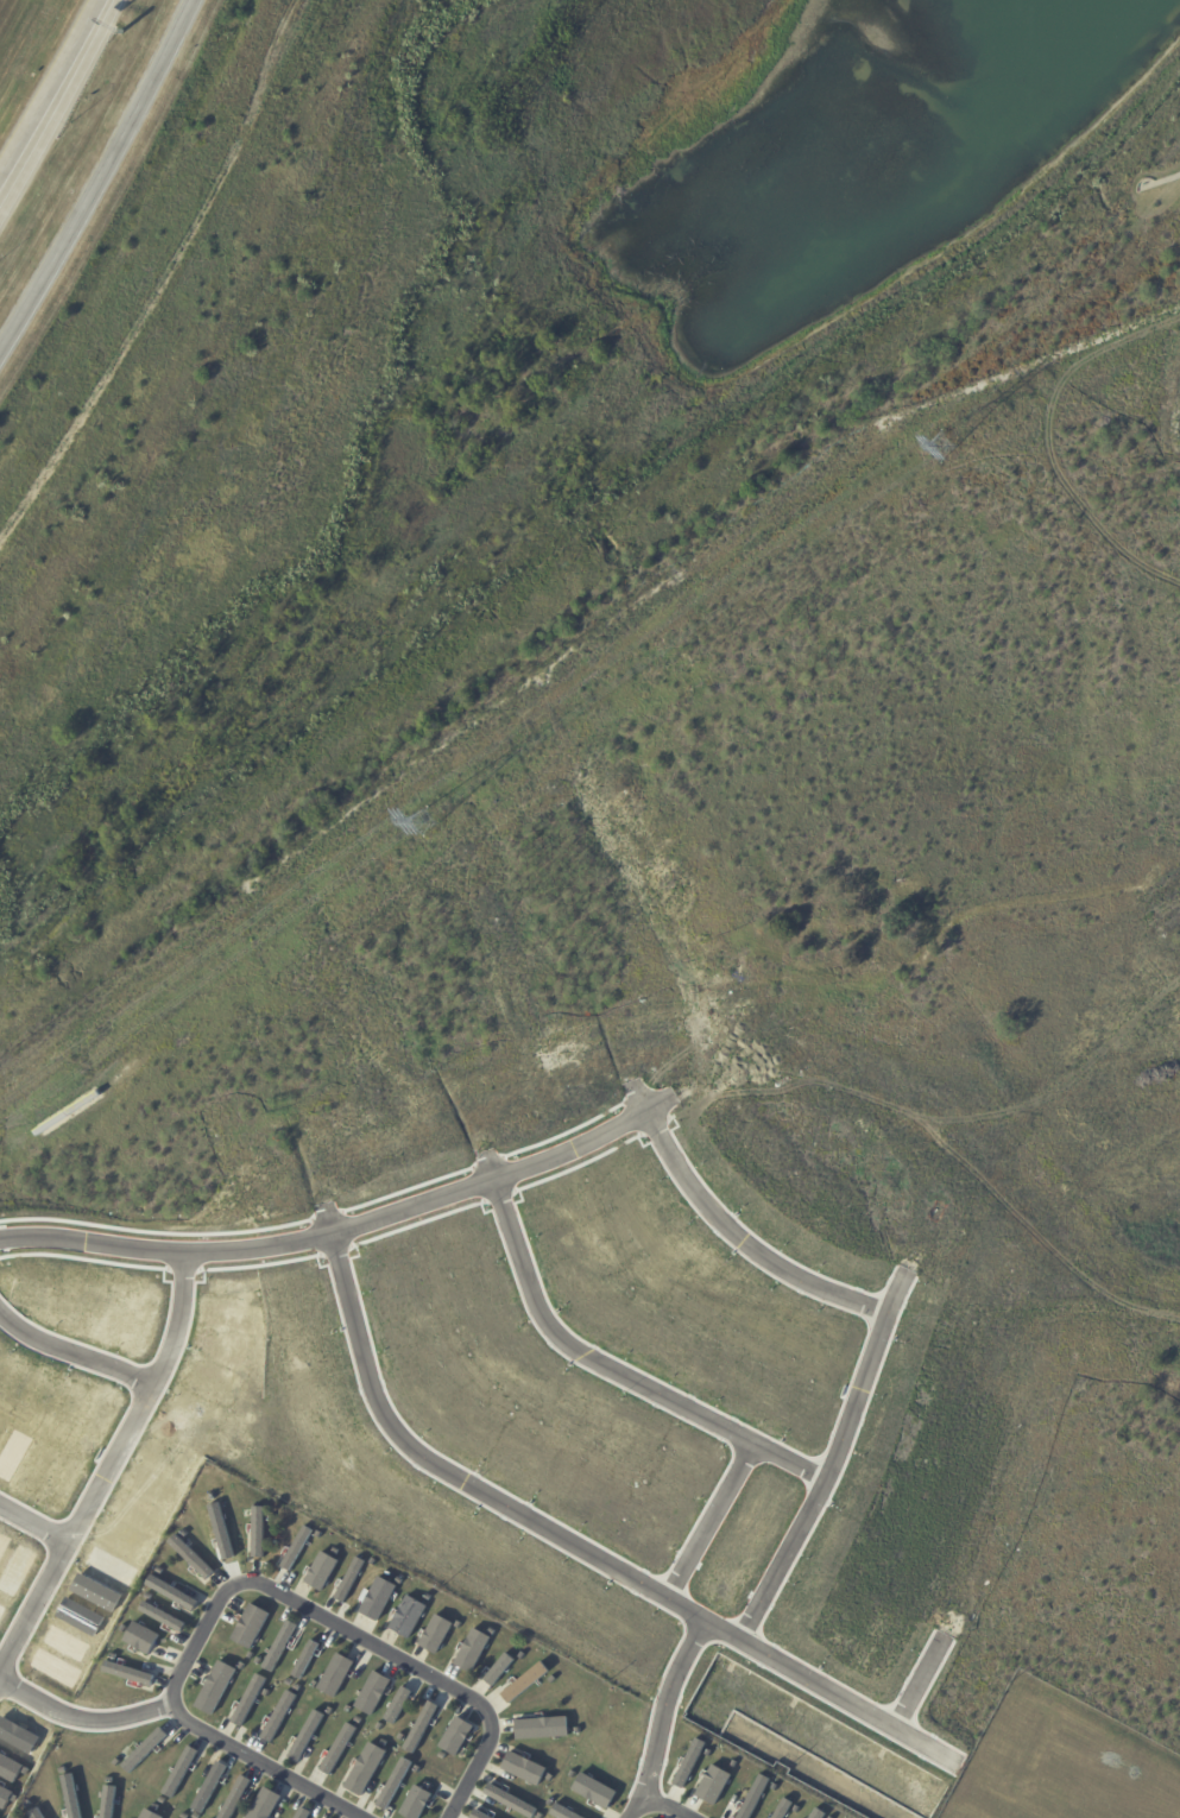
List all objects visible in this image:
road: (49, 86)
road: (58, 108)
road: (1163, 177)
road: (101, 178)
park: (488, 377)
power tower: (948, 454)
power tower: (433, 826)
building: (877, 915)
building: (838, 960)
building: (813, 961)
building: (743, 965)
road: (335, 1230)
road: (750, 1237)
road: (76, 1347)
road: (624, 1368)
building: (1176, 1388)
road: (844, 1453)
road: (114, 1469)
road: (39, 1514)
road: (717, 1516)
building: (257, 1532)
road: (591, 1542)
building: (190, 1557)
building: (321, 1571)
building: (348, 1579)
road: (263, 1590)
building: (171, 1592)
building: (377, 1598)
building: (162, 1616)
building: (406, 1616)
building: (250, 1626)
building: (435, 1633)
building: (140, 1637)
building: (278, 1646)
building: (471, 1649)
building: (304, 1659)
building: (498, 1668)
building: (127, 1673)
building: (335, 1674)
road: (927, 1678)
building: (524, 1681)
building: (214, 1687)
building: (372, 1693)
building: (247, 1699)
road: (674, 1703)
building: (397, 1704)
road: (83, 1711)
building: (131, 1711)
building: (278, 1716)
building: (419, 1727)
building: (541, 1728)
building: (305, 1735)
building: (455, 1736)
building: (337, 1748)
building: (144, 1749)
building: (688, 1762)
building: (364, 1768)
building: (523, 1768)
building: (178, 1772)
building: (393, 1784)
building: (713, 1785)
building: (594, 1791)
building: (70, 1795)
building: (753, 1797)
building: (510, 1800)
building: (107, 1801)
building: (415, 1803)
building: (264, 1804)
road: (669, 1804)
building: (781, 1808)
building: (301, 1812)
building: (36, 1813)
building: (562, 1813)
building: (814, 1813)
building: (149, 1814)

